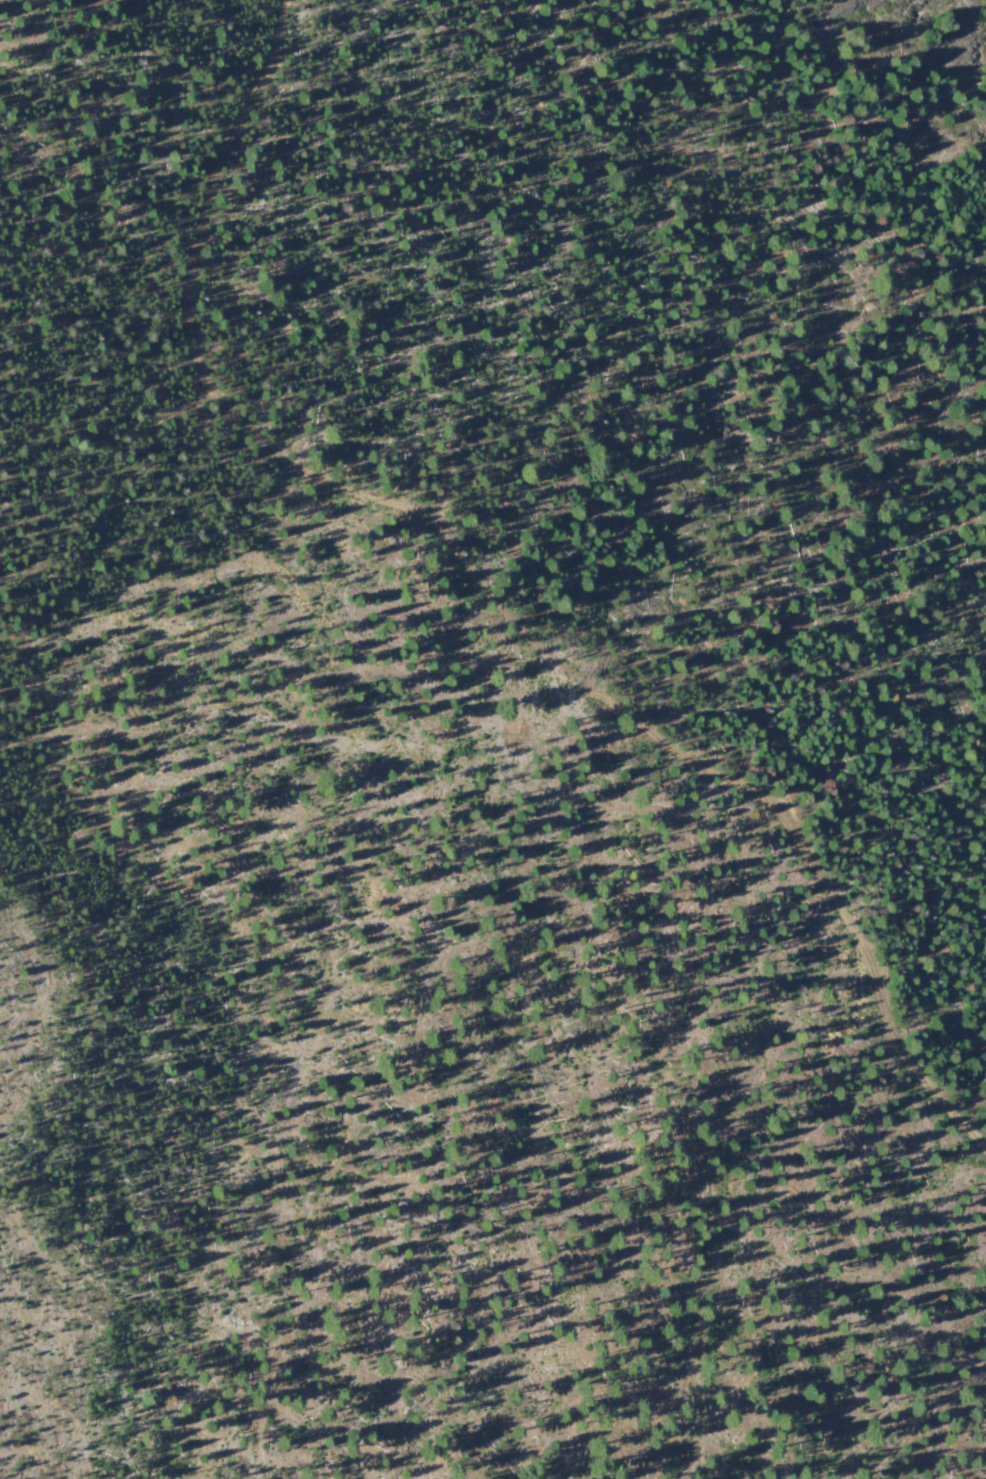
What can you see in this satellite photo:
road: (486, 594)

